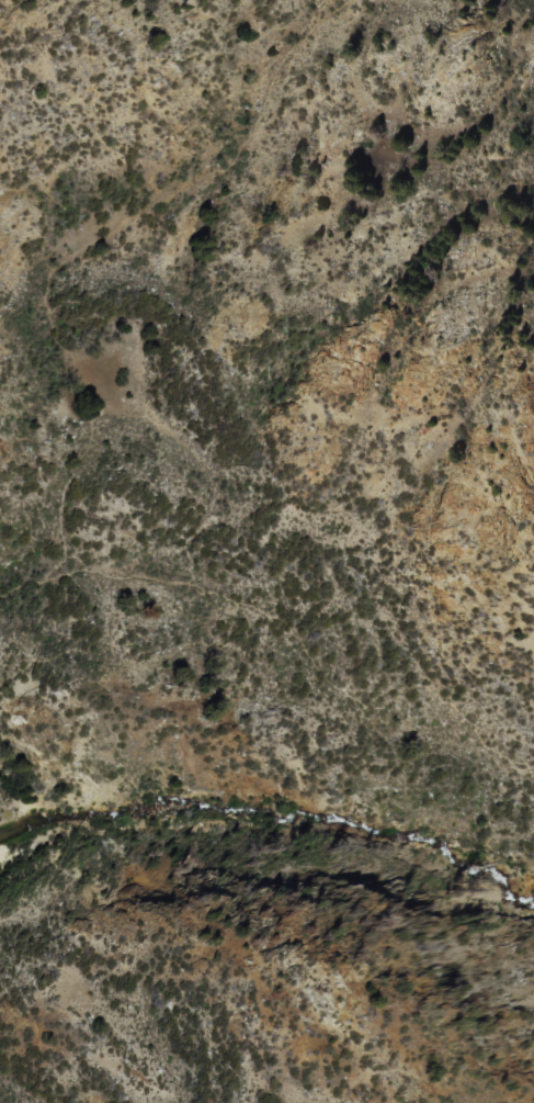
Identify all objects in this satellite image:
road: (289, 631)

